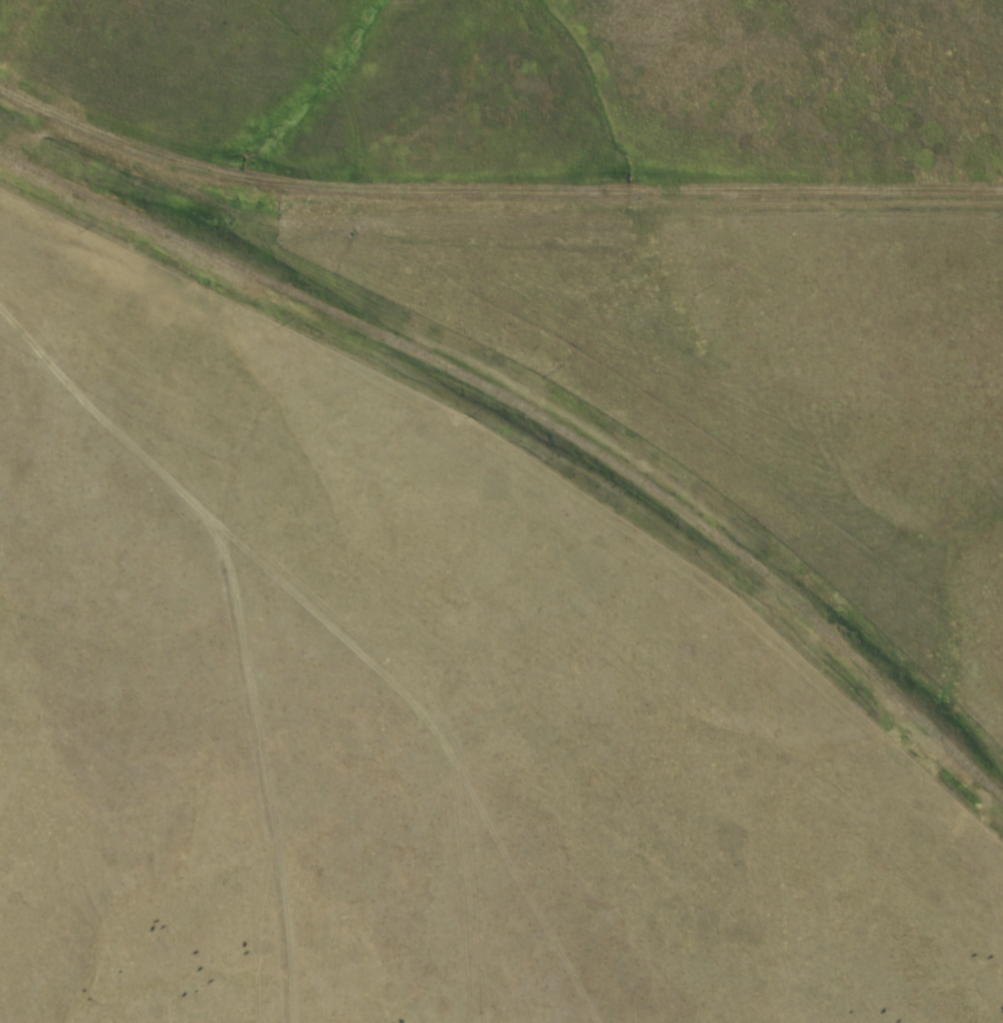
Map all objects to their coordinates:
road: (492, 198)
railway: (526, 427)

